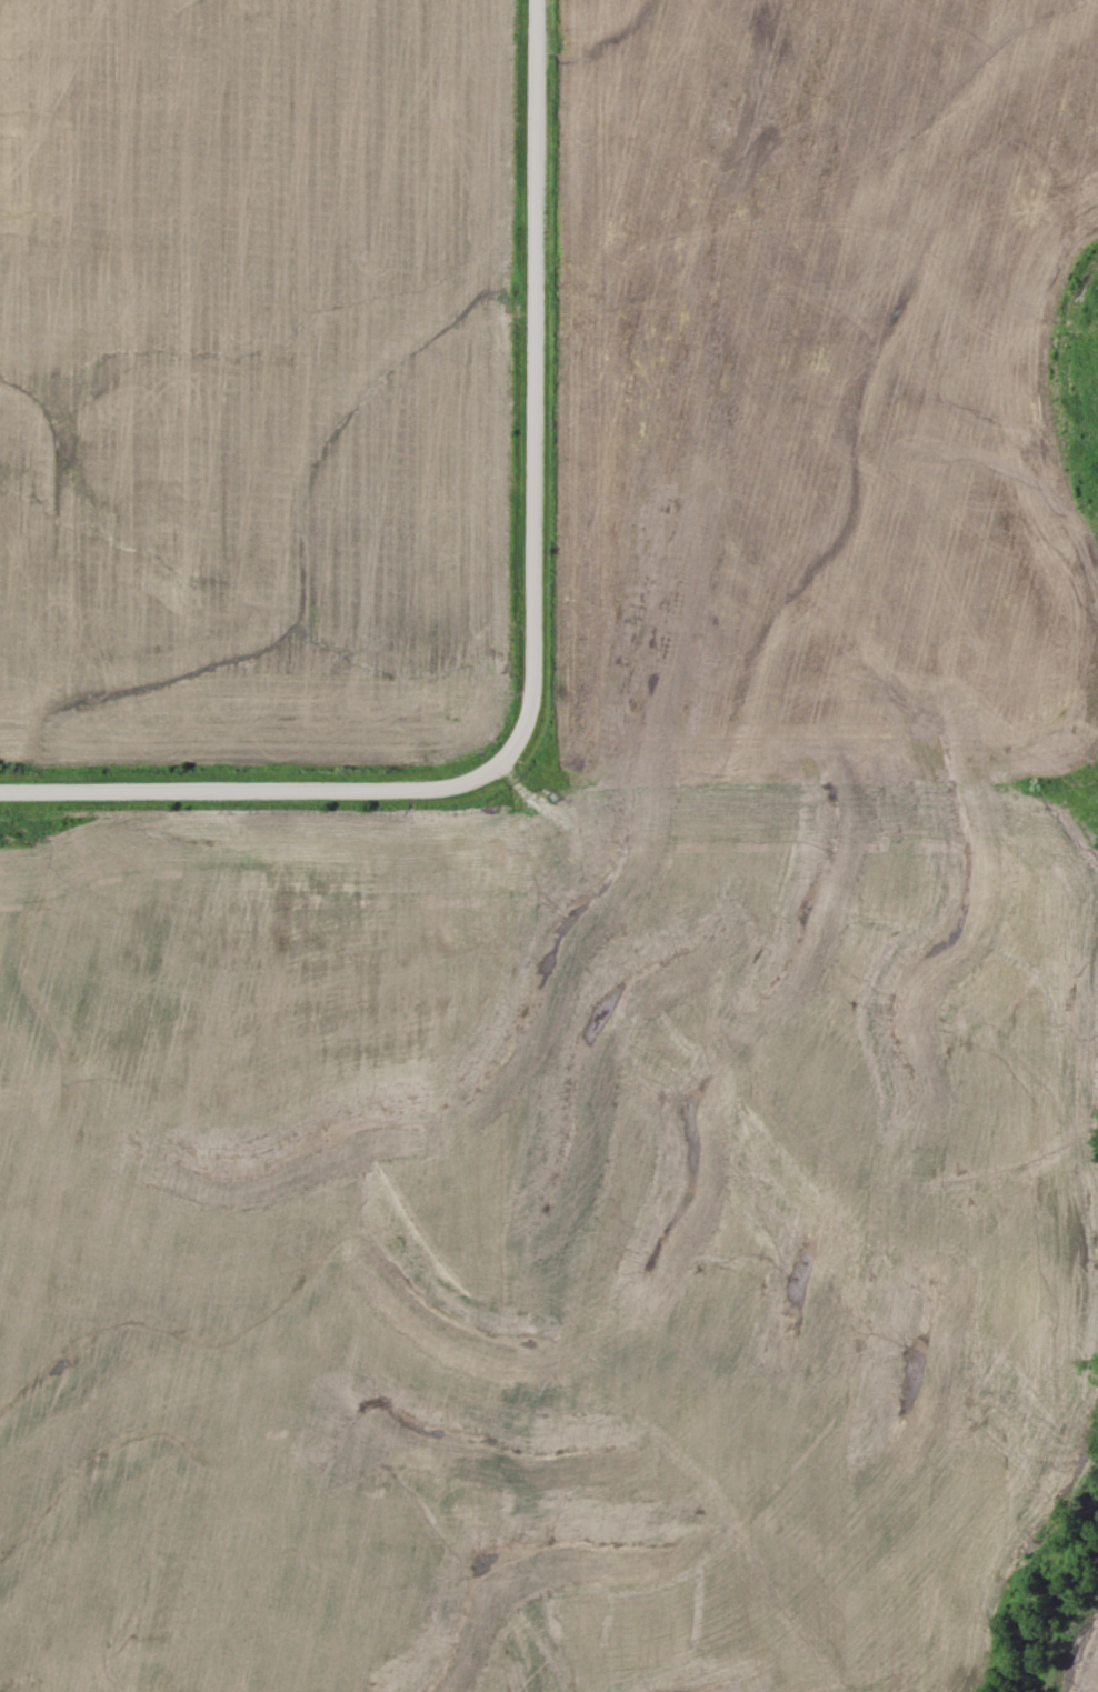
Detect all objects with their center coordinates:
road: (499, 615)

